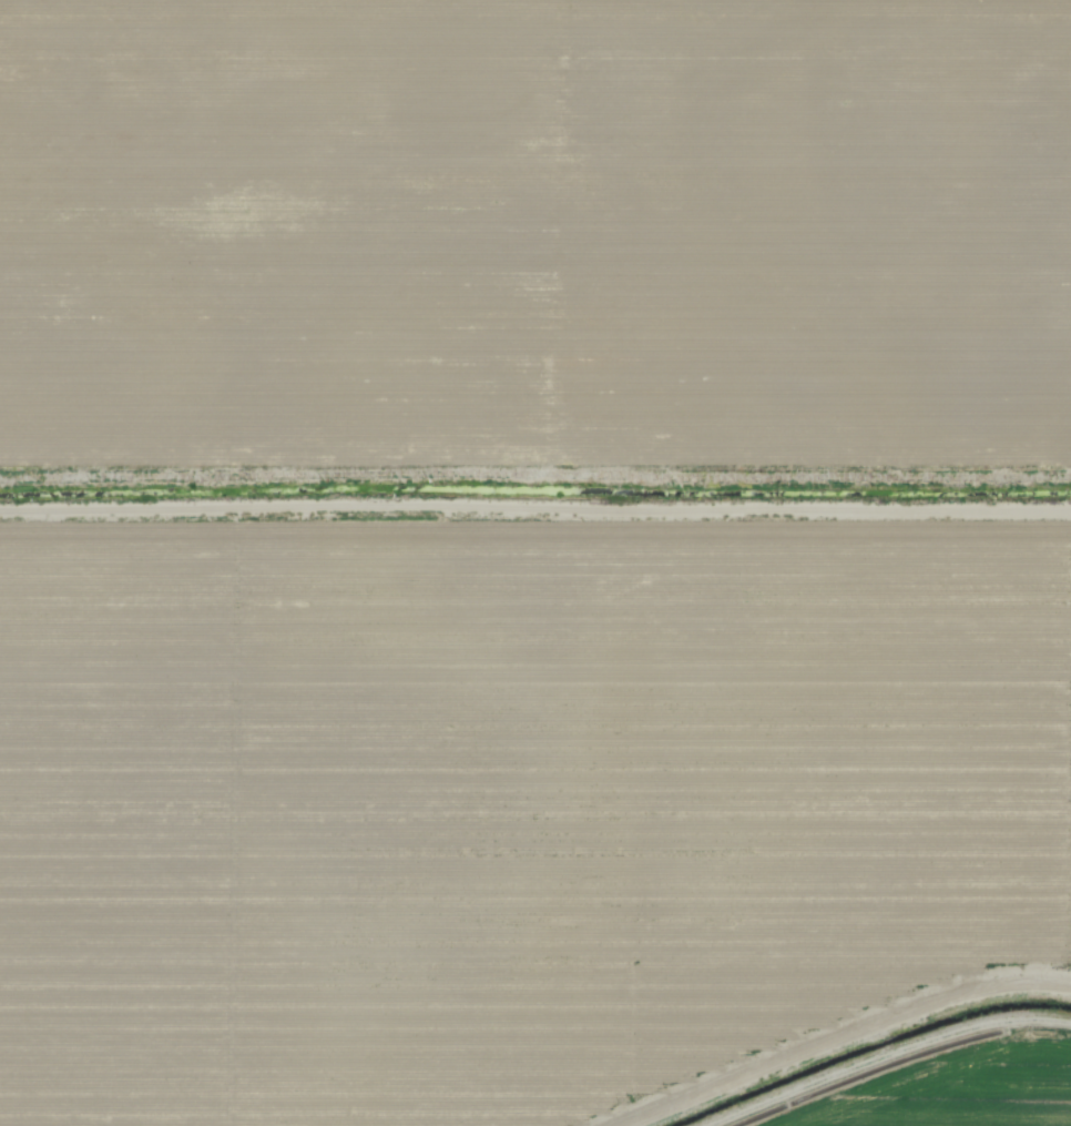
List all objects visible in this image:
crop: (535, 562)

